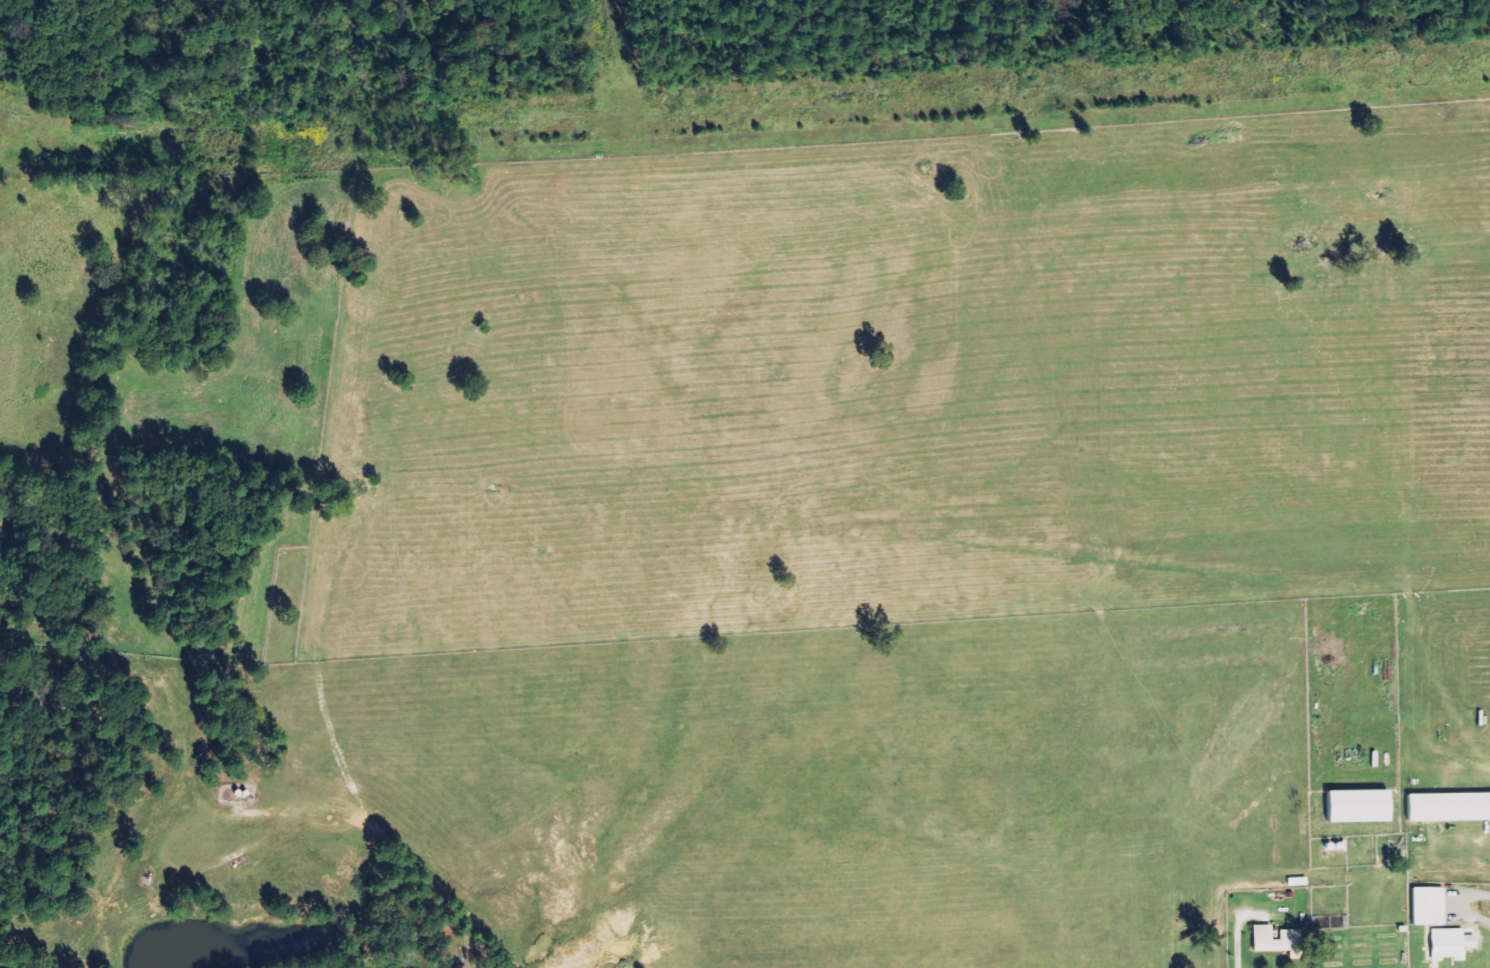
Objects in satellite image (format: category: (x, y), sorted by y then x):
building: (1353, 805)
building: (1445, 806)
building: (1423, 905)
building: (1284, 934)
building: (1443, 943)

